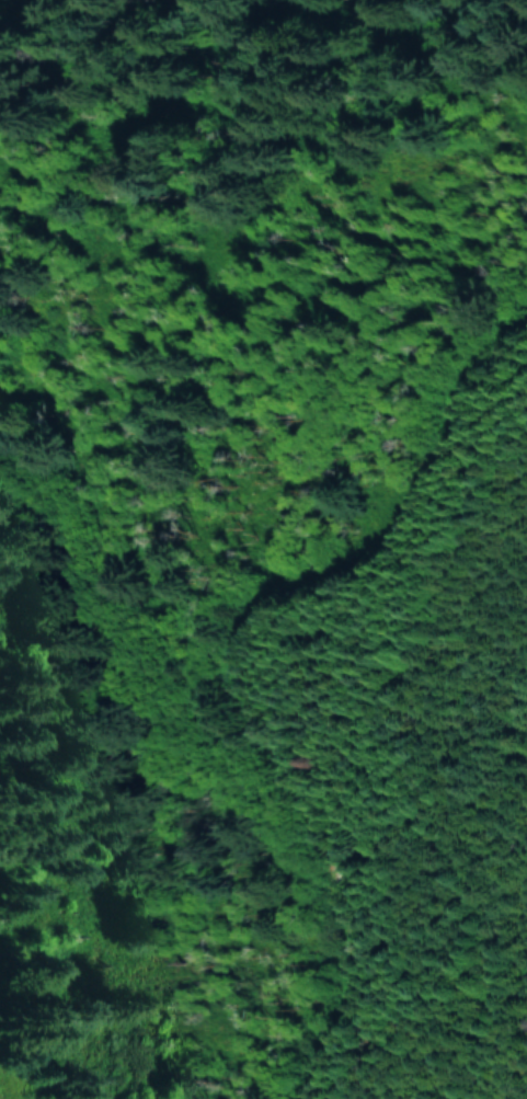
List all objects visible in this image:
road: (245, 668)
road: (122, 698)

